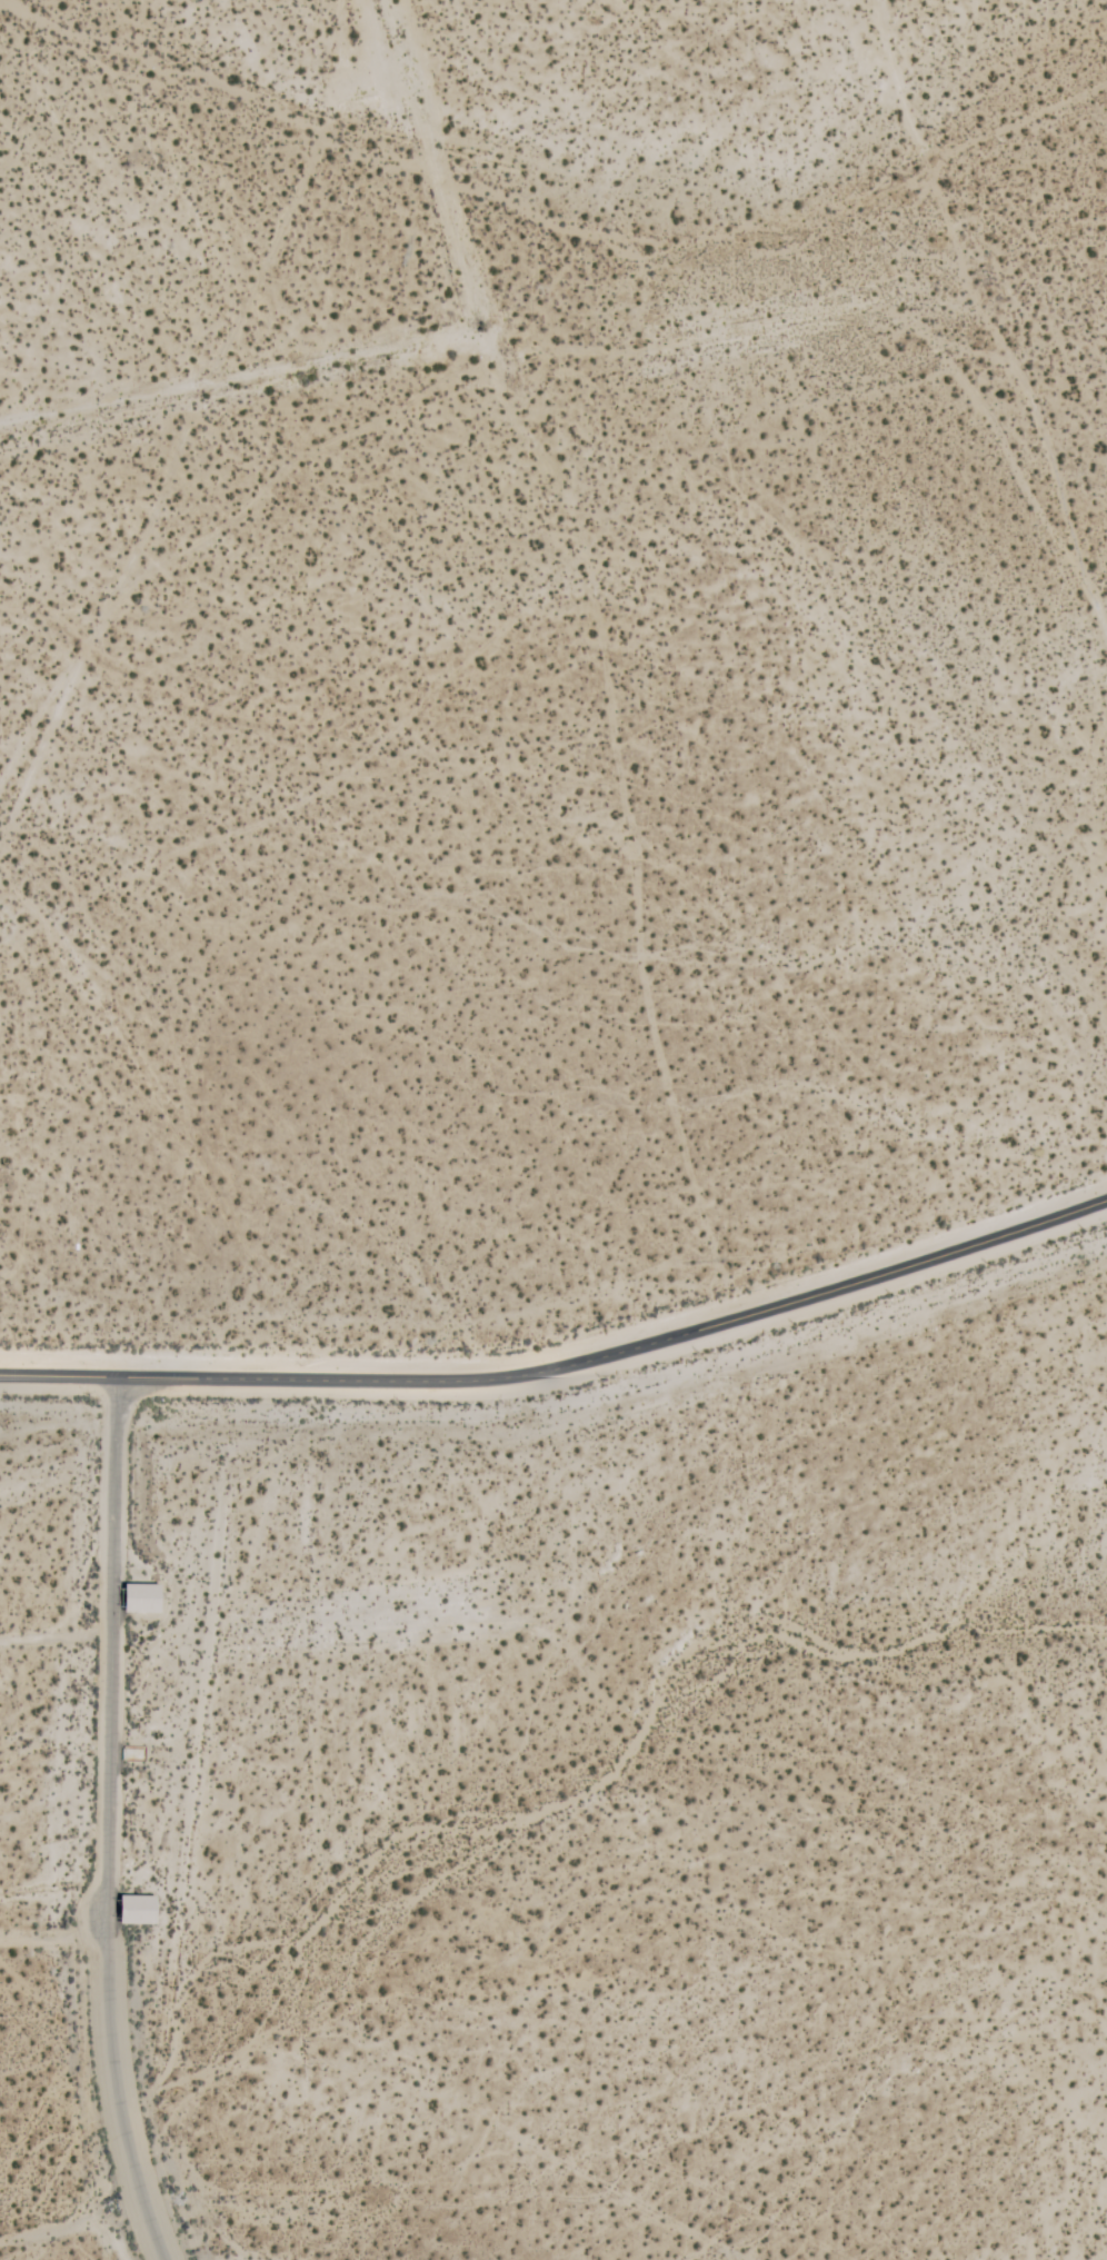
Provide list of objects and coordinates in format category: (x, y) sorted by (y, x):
road: (979, 315)
road: (565, 1363)
building: (140, 1599)
road: (106, 1820)
building: (136, 1910)

